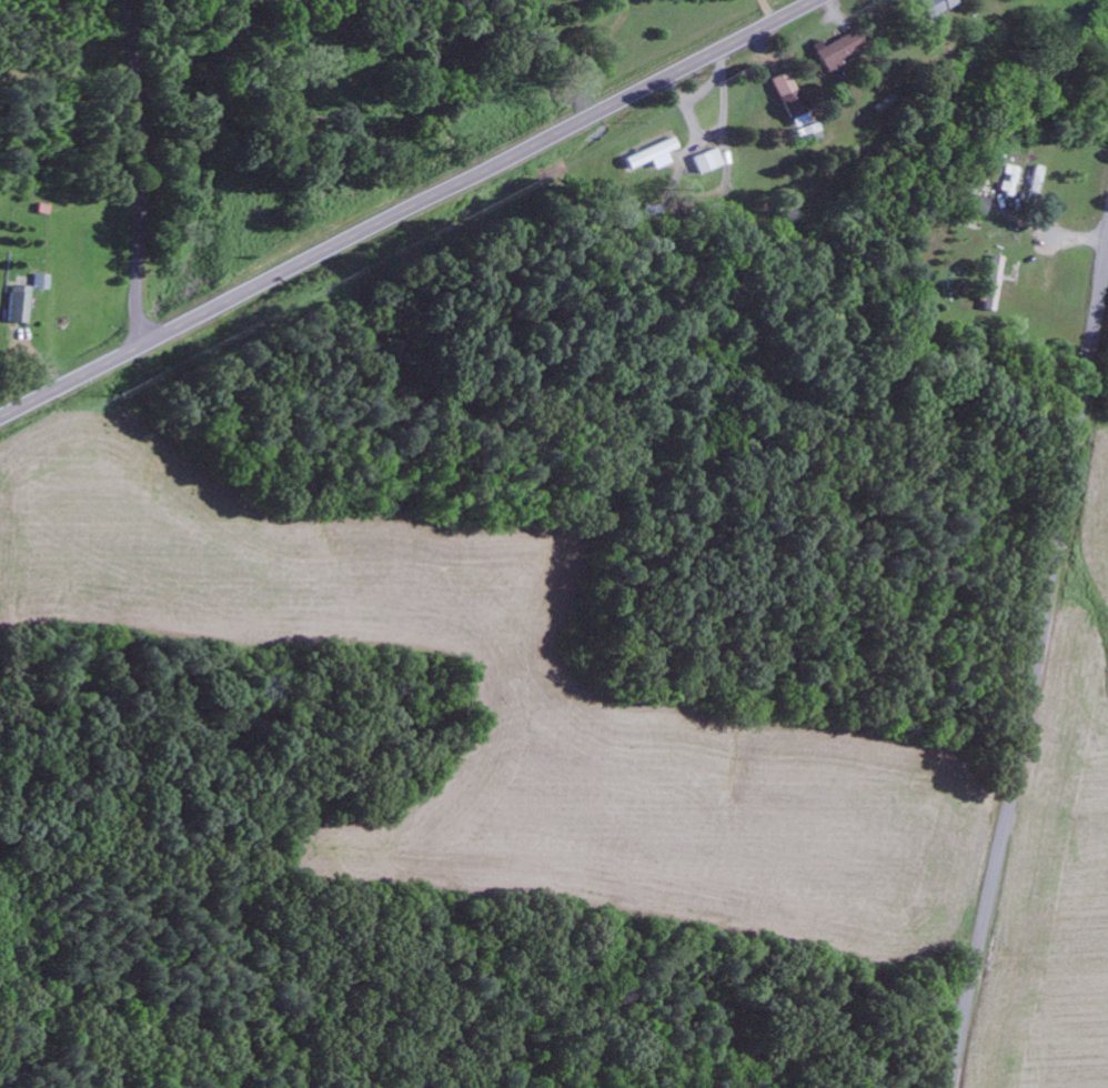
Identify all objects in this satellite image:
building: (934, 6)
building: (837, 51)
building: (788, 100)
building: (706, 161)
road: (140, 172)
building: (1037, 181)
building: (976, 204)
road: (409, 209)
building: (991, 283)
building: (16, 304)
road: (1033, 661)

